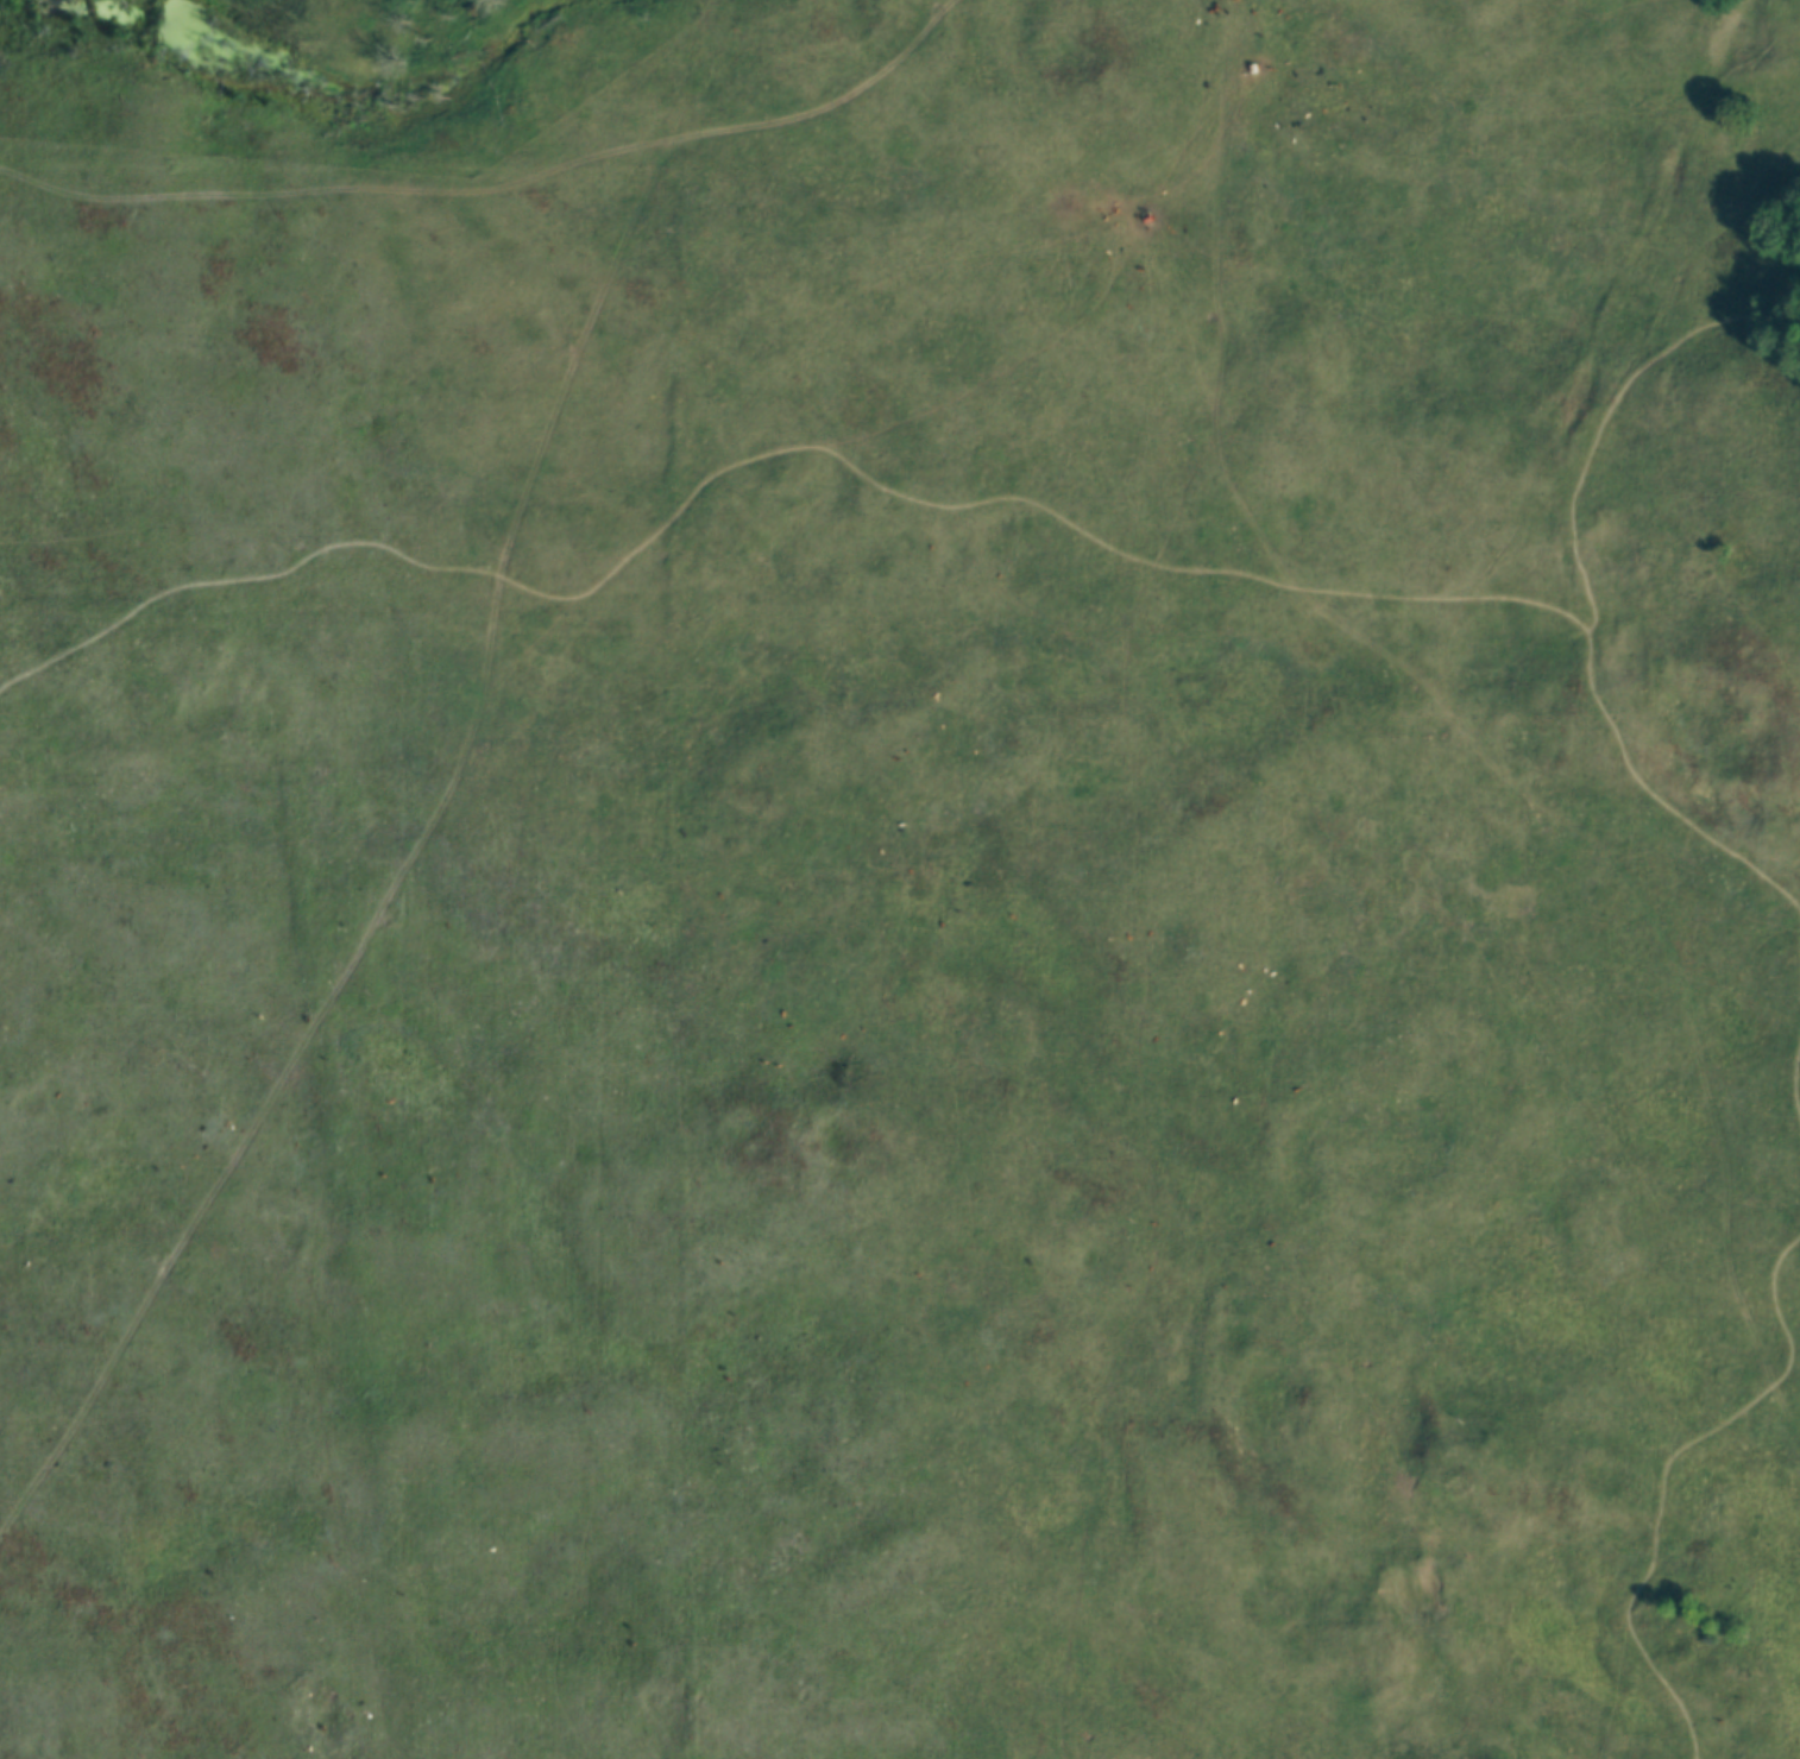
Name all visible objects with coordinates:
road: (1611, 408)
road: (769, 452)
road: (1653, 795)
road: (1793, 1086)
road: (1662, 1473)

